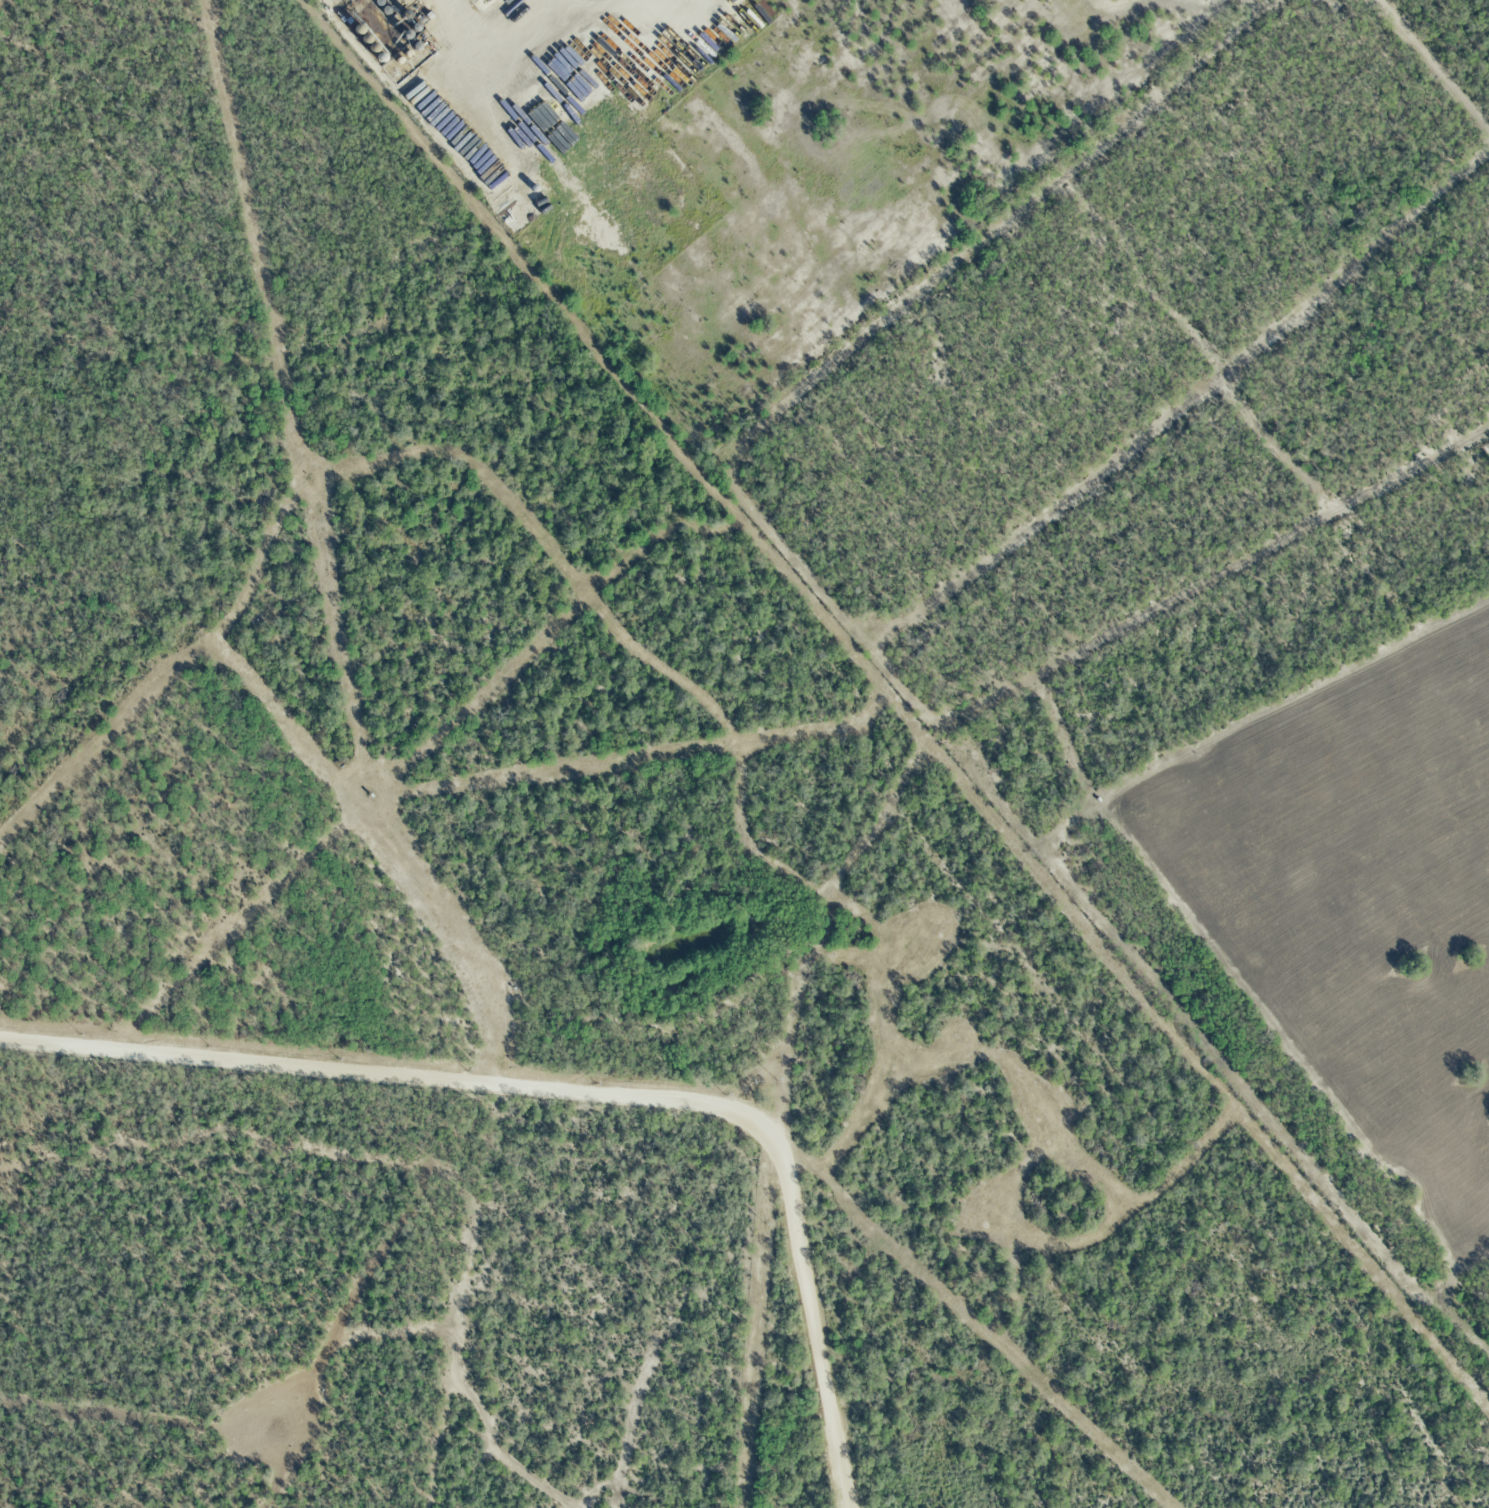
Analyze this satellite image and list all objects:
road: (530, 80)
road: (583, 1084)

